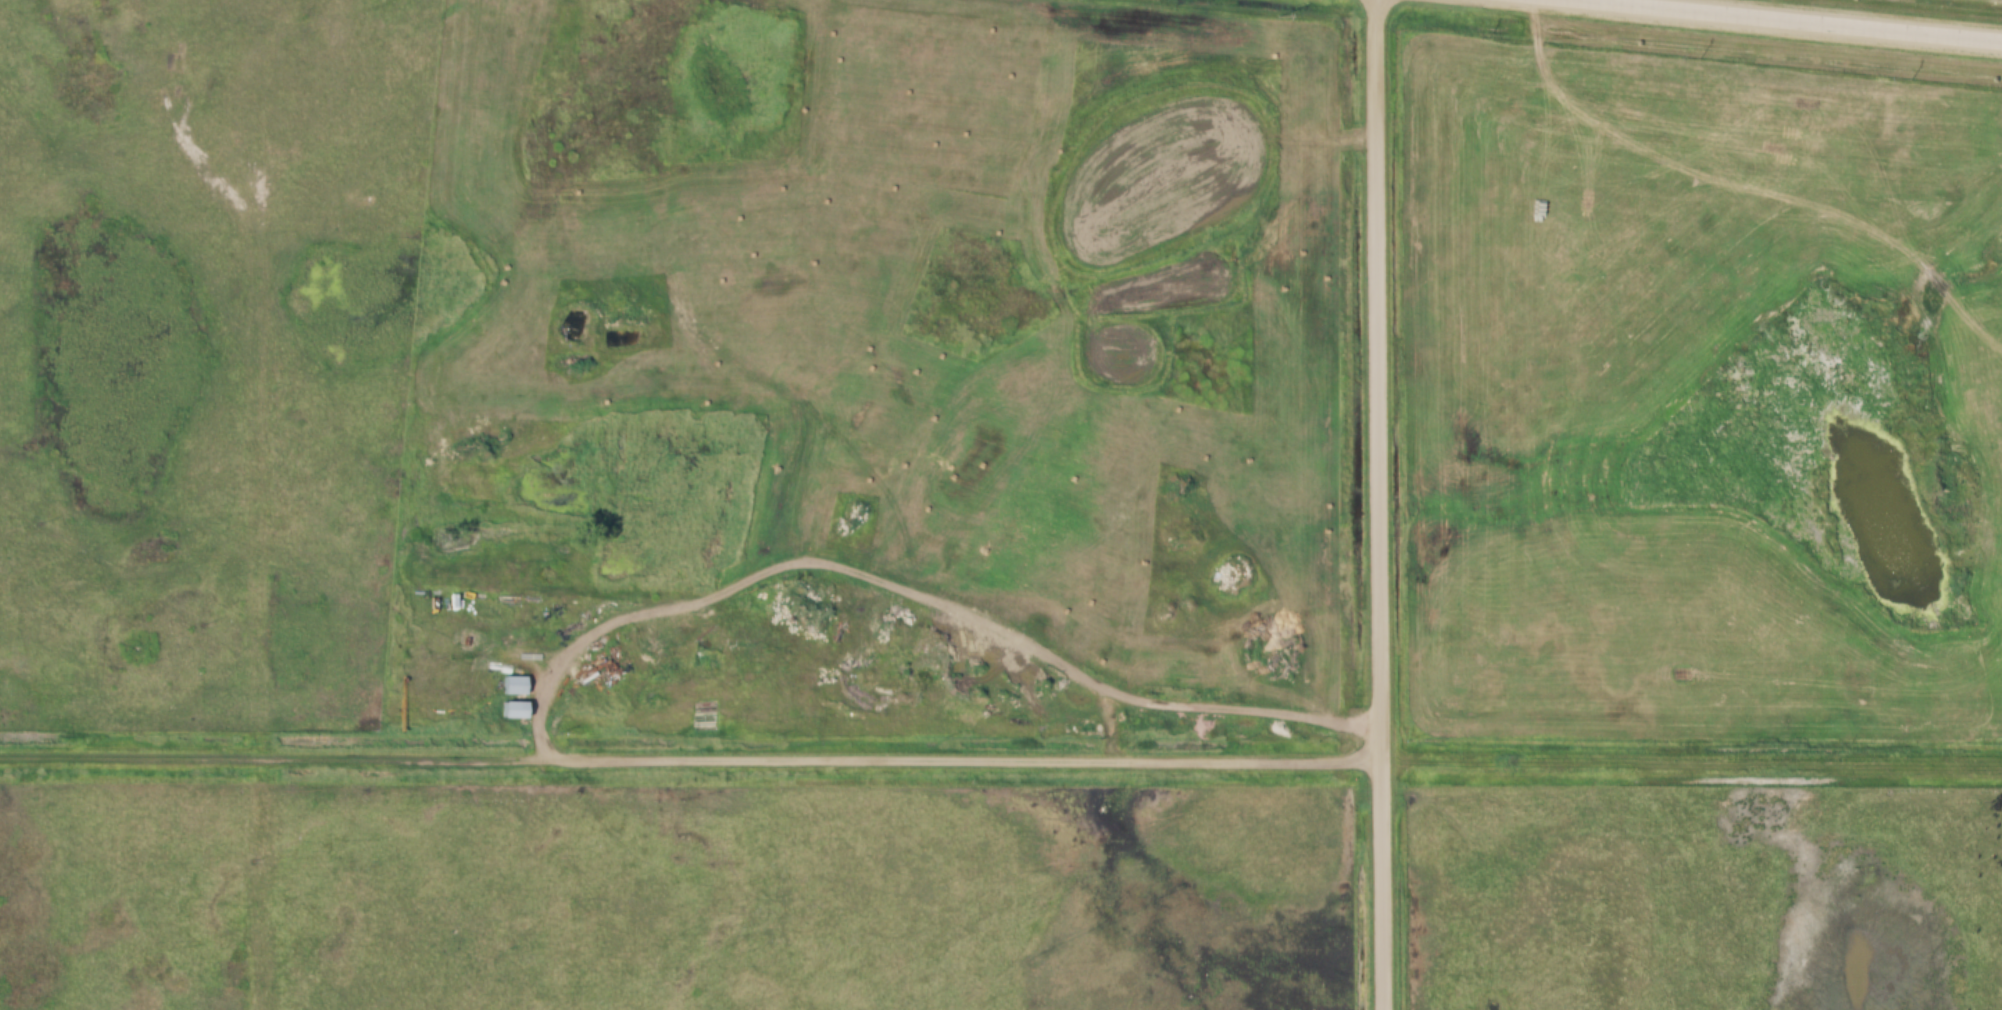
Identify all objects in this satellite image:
road: (1809, 19)
building: (458, 35)
road: (1380, 505)
building: (513, 686)
building: (512, 711)
airport runway: (1758, 760)

